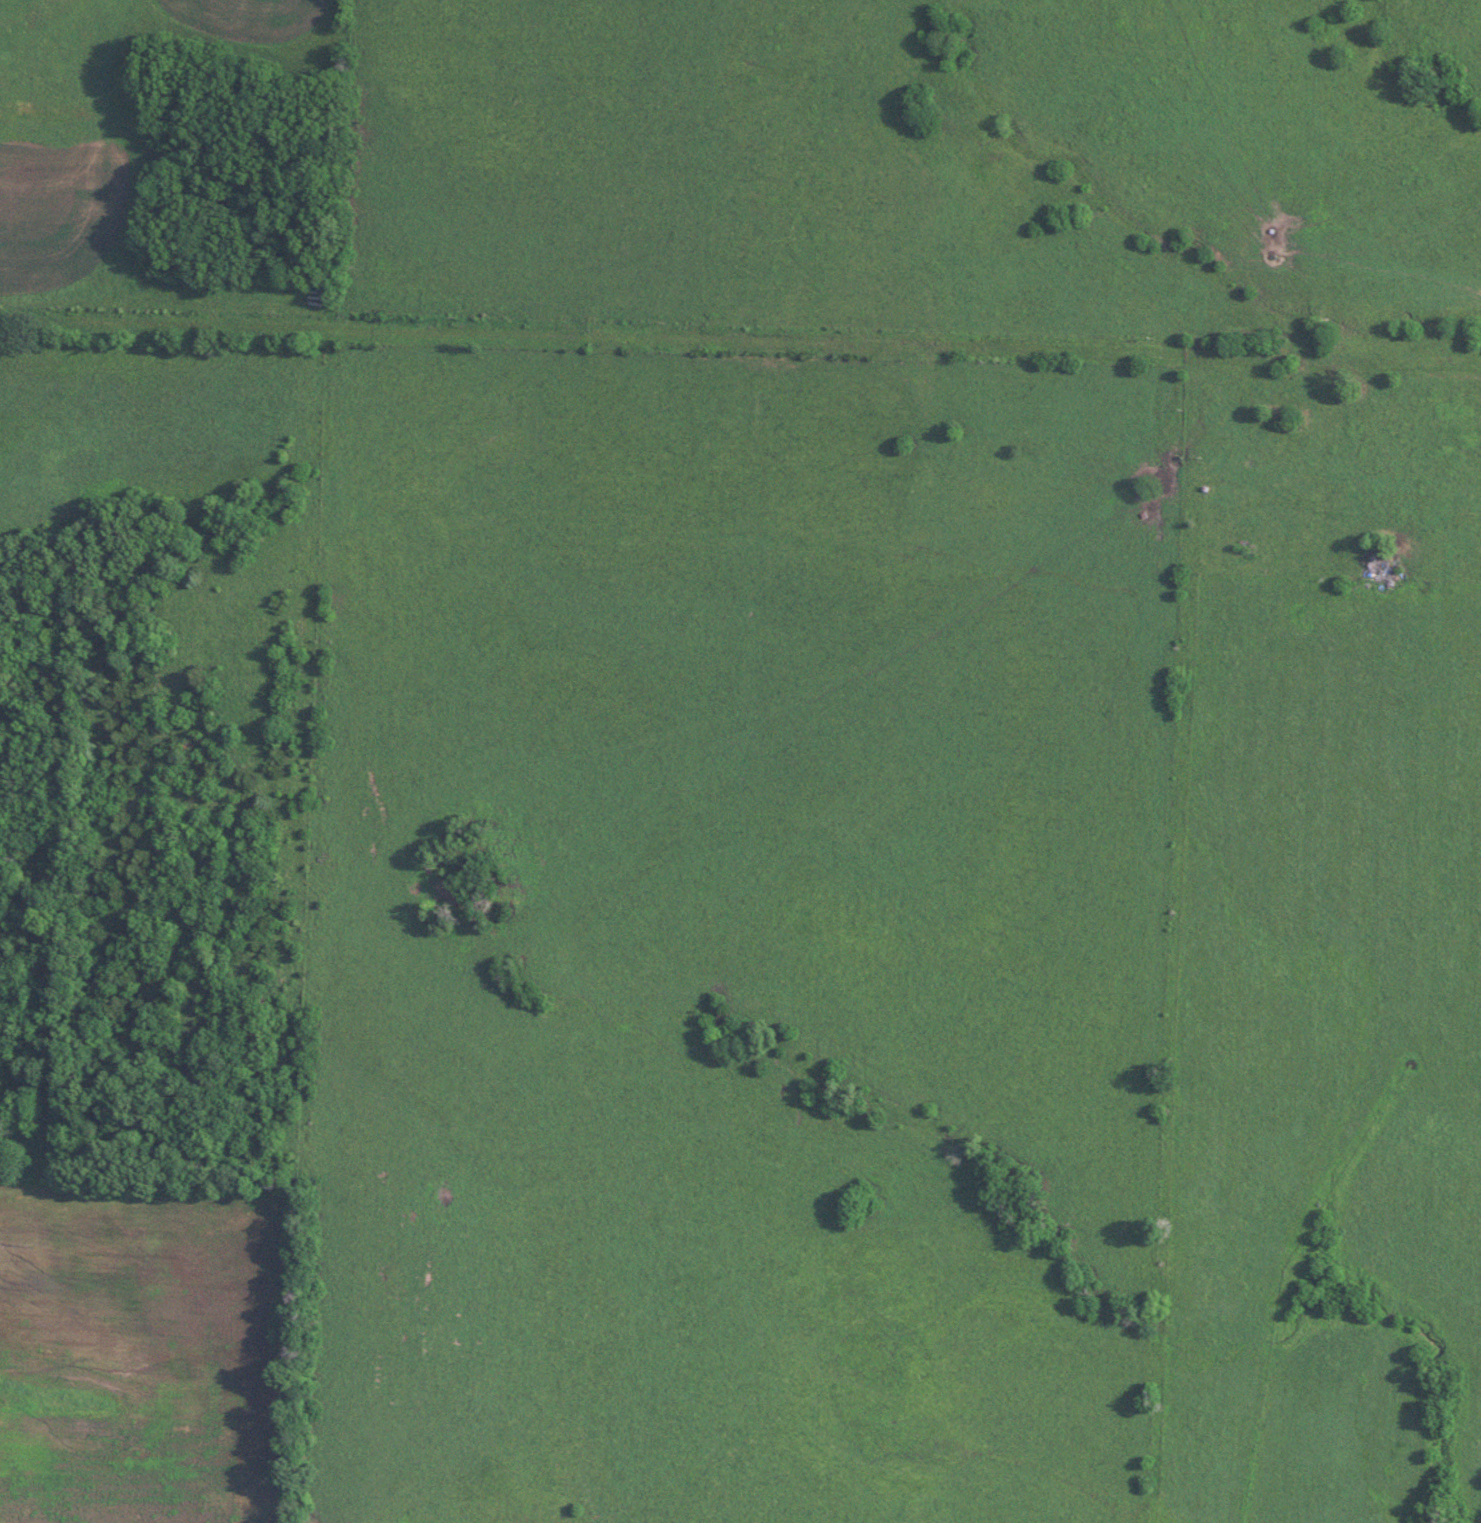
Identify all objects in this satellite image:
road: (740, 337)
building: (1373, 559)

